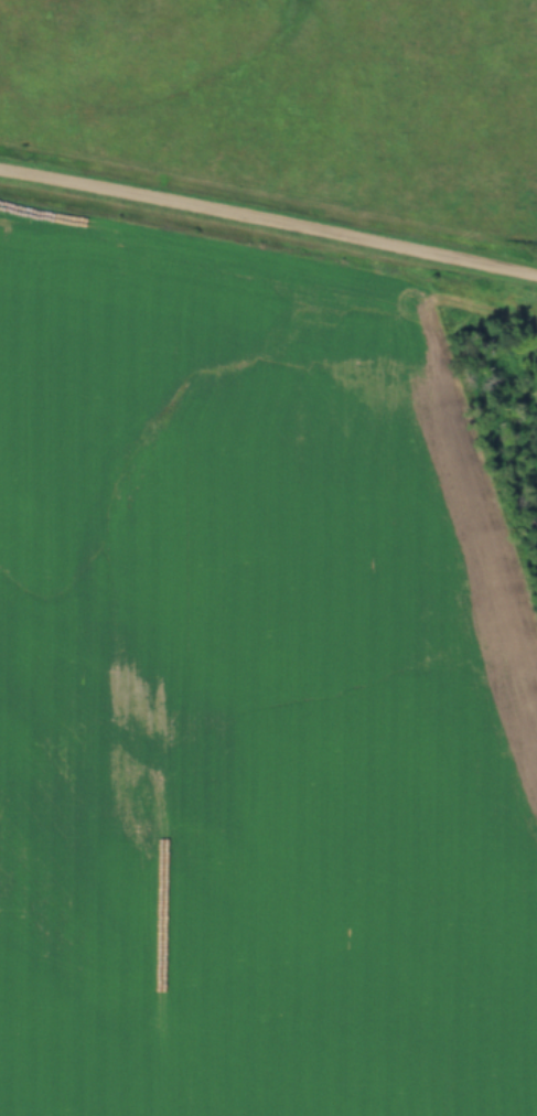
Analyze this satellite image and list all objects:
road: (268, 221)

